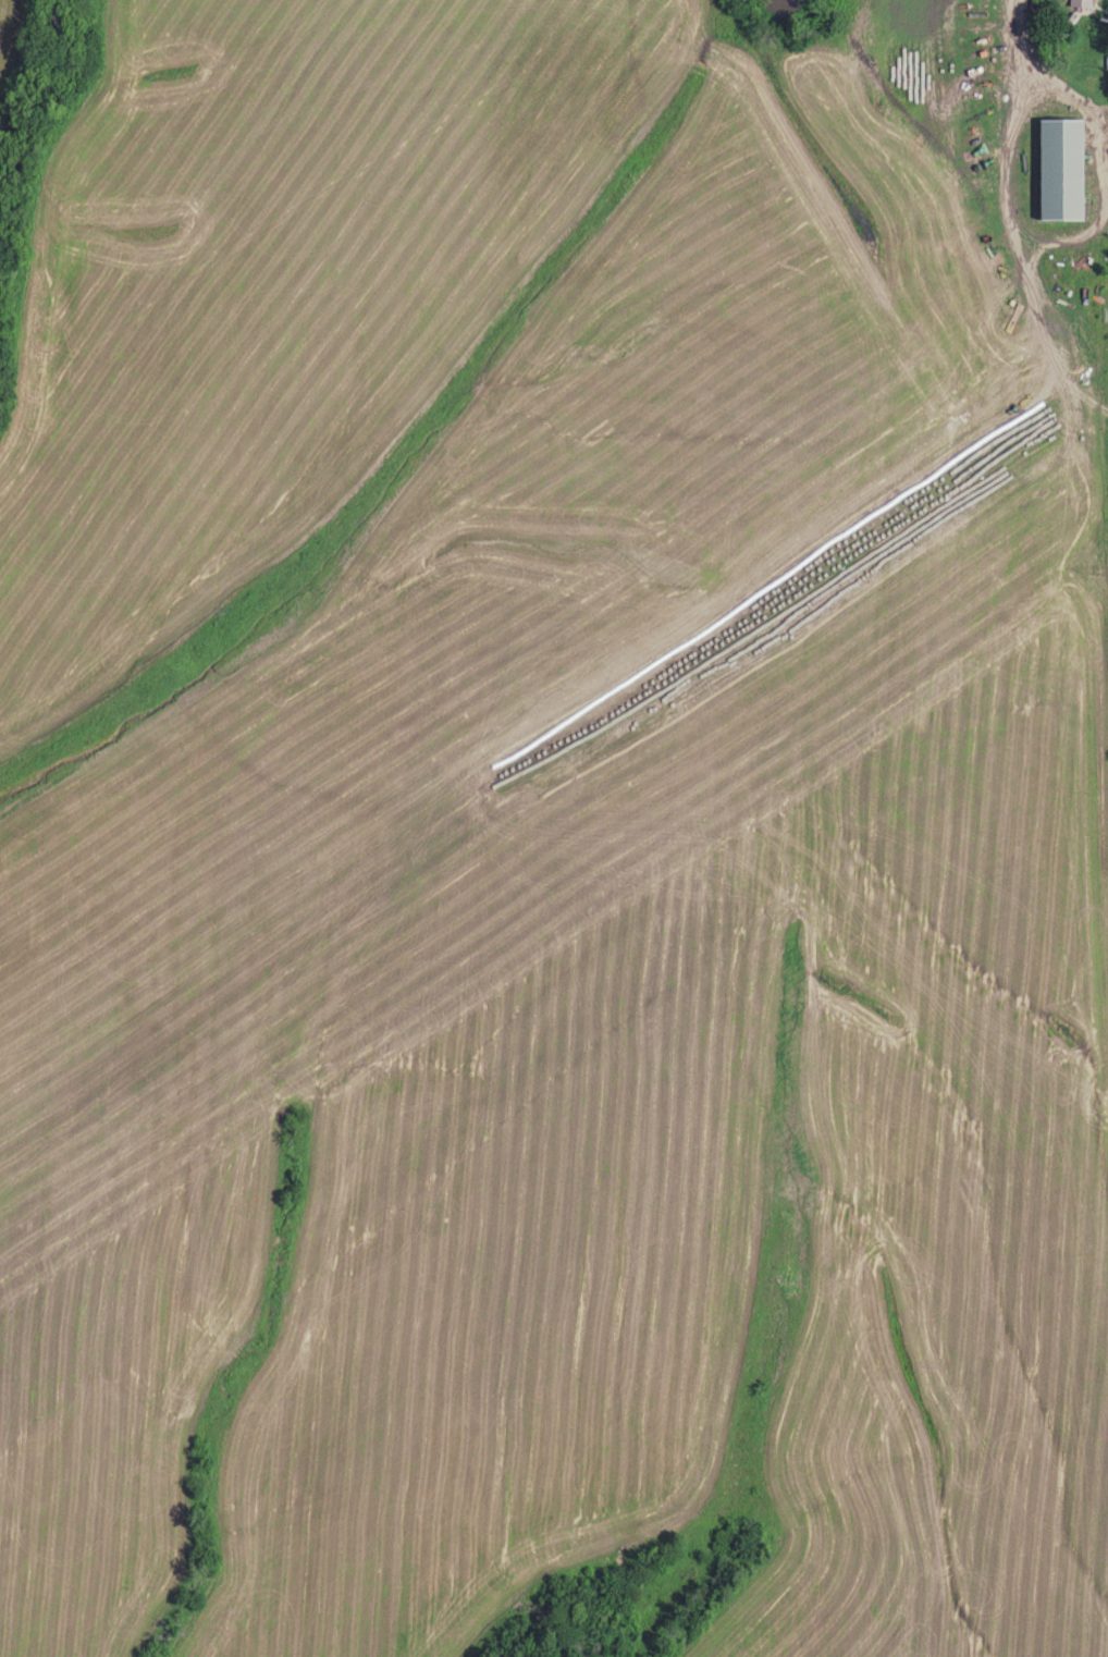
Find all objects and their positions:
building: (1080, 3)
road: (1024, 83)
building: (1055, 171)
road: (1031, 242)

